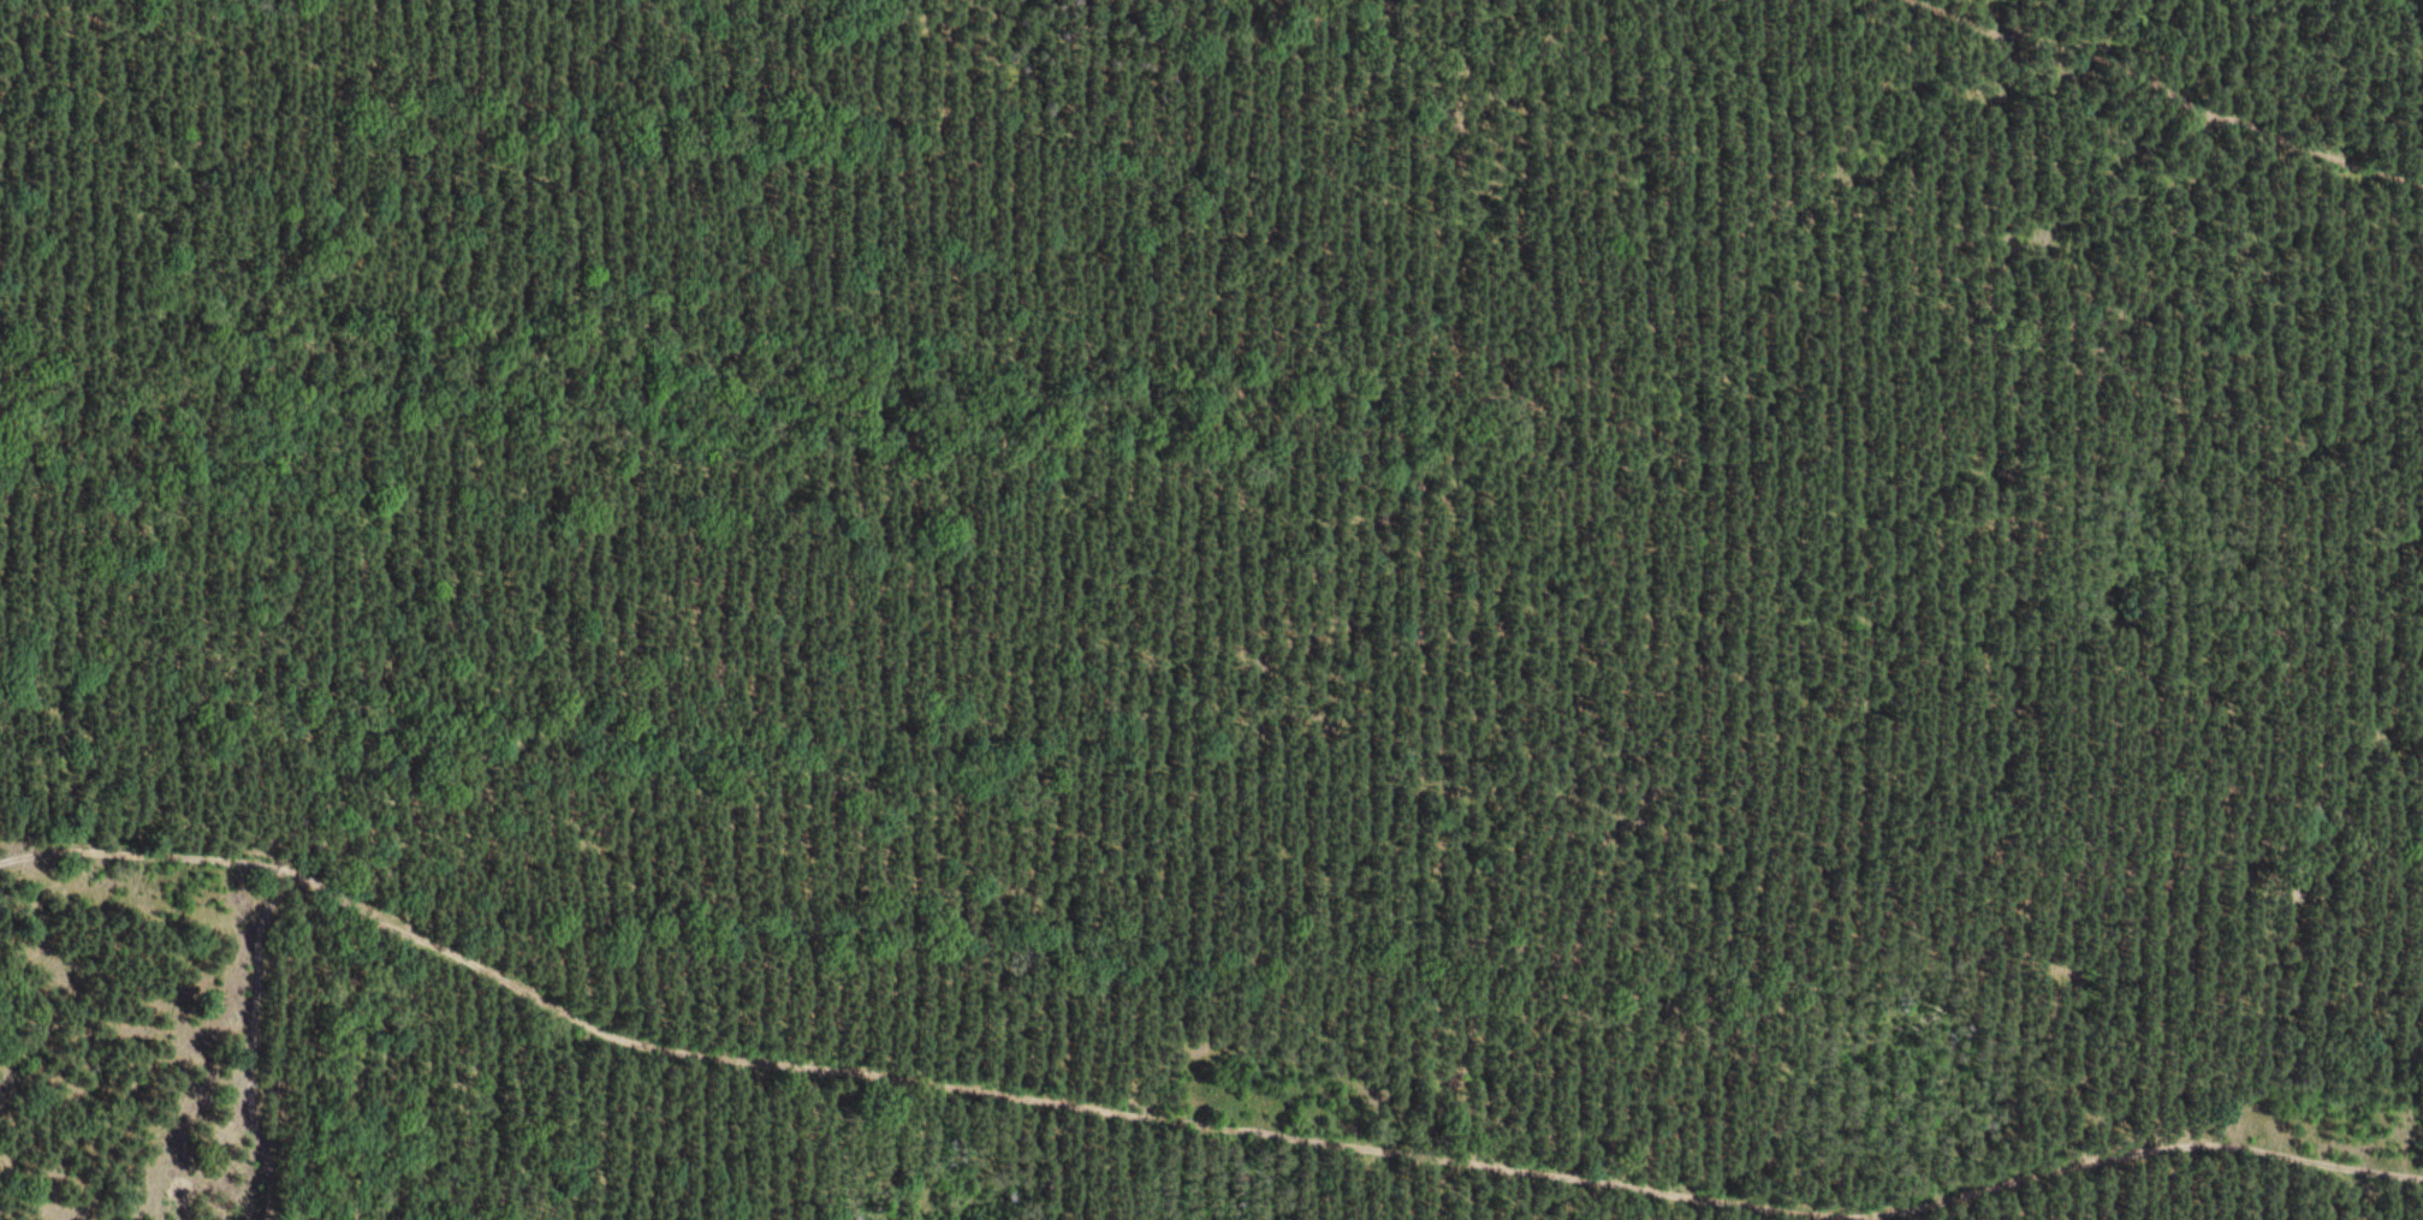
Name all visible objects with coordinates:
road: (2121, 89)
road: (1192, 1125)

